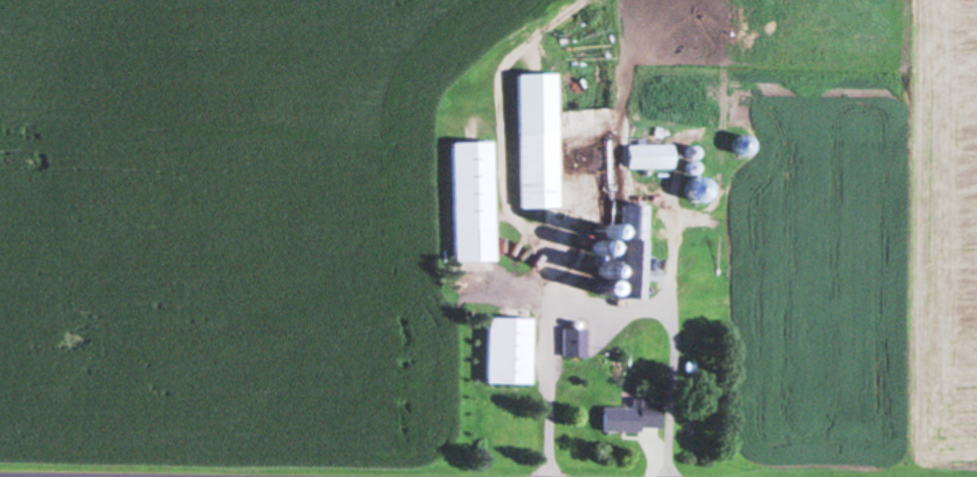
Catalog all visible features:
building: (527, 141)
building: (642, 156)
building: (462, 203)
building: (625, 248)
road: (545, 297)
road: (668, 334)
building: (569, 343)
building: (501, 351)
building: (628, 418)
road: (34, 476)

